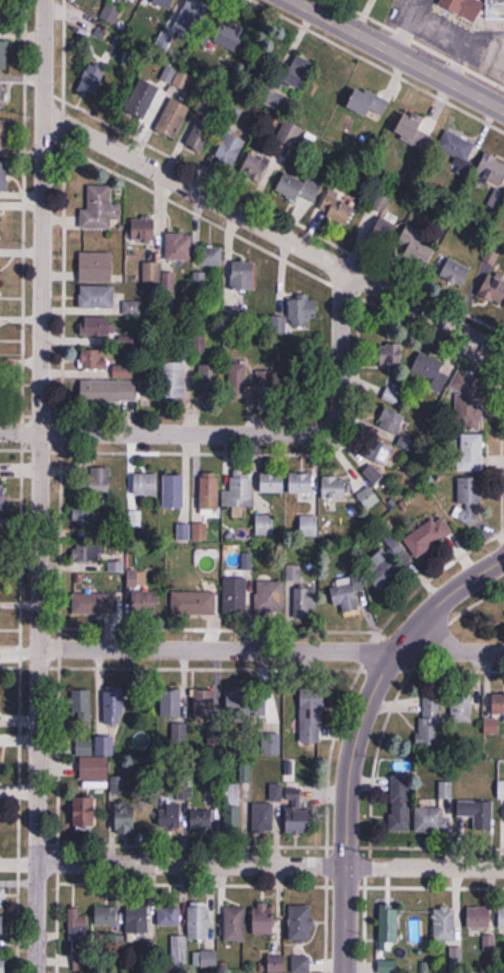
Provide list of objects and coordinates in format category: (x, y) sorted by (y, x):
building: (165, 3)
building: (465, 7)
building: (495, 9)
building: (1, 11)
building: (187, 13)
road: (399, 23)
road: (448, 32)
building: (227, 37)
building: (4, 54)
road: (399, 54)
building: (297, 73)
building: (3, 98)
building: (145, 99)
building: (172, 120)
building: (414, 132)
building: (4, 135)
building: (201, 135)
building: (230, 149)
building: (457, 149)
building: (257, 170)
building: (3, 176)
building: (299, 188)
building: (101, 209)
building: (339, 211)
building: (144, 230)
building: (380, 232)
road: (275, 233)
building: (179, 247)
building: (419, 247)
building: (211, 256)
building: (96, 268)
building: (152, 268)
building: (455, 272)
building: (243, 275)
building: (493, 290)
building: (96, 297)
building: (132, 307)
building: (296, 316)
building: (98, 326)
building: (200, 345)
building: (390, 355)
building: (94, 360)
building: (431, 370)
building: (124, 373)
building: (238, 378)
building: (175, 381)
building: (212, 382)
building: (109, 392)
building: (391, 396)
building: (469, 400)
building: (394, 423)
road: (246, 436)
building: (471, 453)
building: (372, 460)
building: (96, 483)
building: (272, 484)
building: (301, 484)
building: (146, 485)
road: (40, 486)
building: (334, 488)
building: (1, 491)
building: (173, 492)
building: (237, 492)
building: (209, 493)
building: (368, 498)
building: (469, 501)
building: (85, 516)
building: (264, 525)
building: (309, 527)
building: (428, 536)
building: (91, 554)
building: (389, 564)
building: (347, 594)
building: (235, 596)
building: (269, 597)
building: (305, 601)
building: (144, 602)
building: (95, 603)
building: (194, 603)
road: (272, 650)
building: (171, 703)
building: (205, 703)
building: (251, 703)
building: (115, 704)
building: (498, 704)
building: (82, 705)
building: (461, 709)
building: (312, 715)
building: (429, 725)
building: (491, 727)
road: (357, 736)
building: (94, 758)
building: (232, 806)
building: (400, 809)
building: (266, 811)
building: (297, 811)
building: (437, 812)
building: (85, 813)
building: (478, 814)
building: (171, 815)
building: (126, 816)
building: (204, 817)
road: (270, 865)
building: (2, 896)
building: (501, 914)
building: (106, 915)
building: (169, 915)
building: (264, 918)
building: (479, 918)
building: (79, 920)
building: (137, 920)
building: (198, 921)
building: (301, 922)
building: (389, 922)
building: (234, 923)
building: (444, 923)
building: (1, 925)
building: (490, 942)
building: (178, 952)
building: (209, 959)
building: (456, 960)
building: (3, 964)
building: (301, 964)
building: (388, 966)

